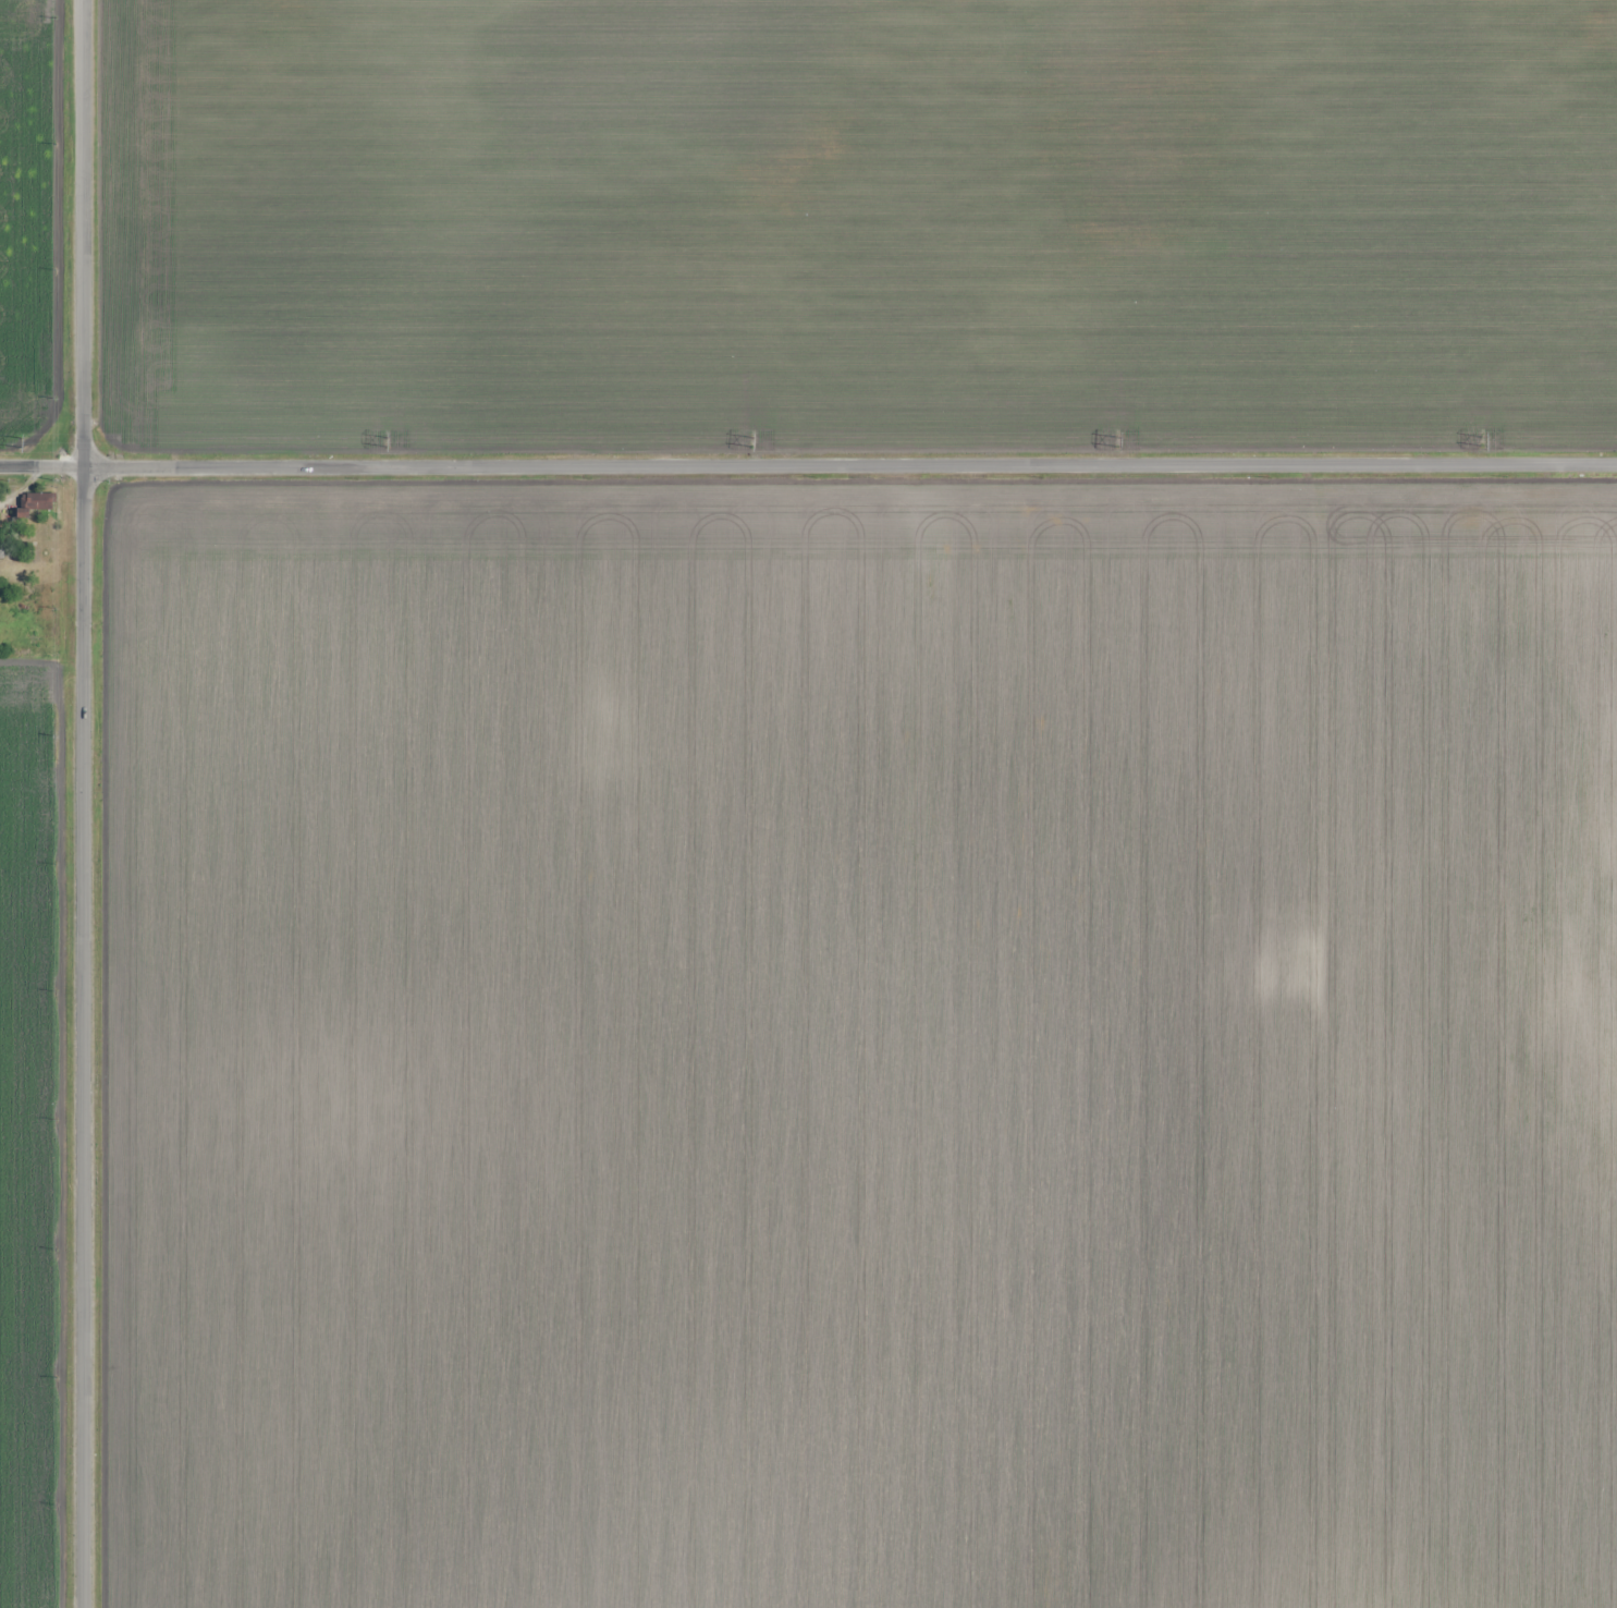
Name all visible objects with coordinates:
power tower: (388, 440)
power tower: (752, 441)
power tower: (1117, 441)
power tower: (1483, 441)
power tower: (23, 443)
road: (808, 465)
building: (34, 504)
road: (84, 804)

